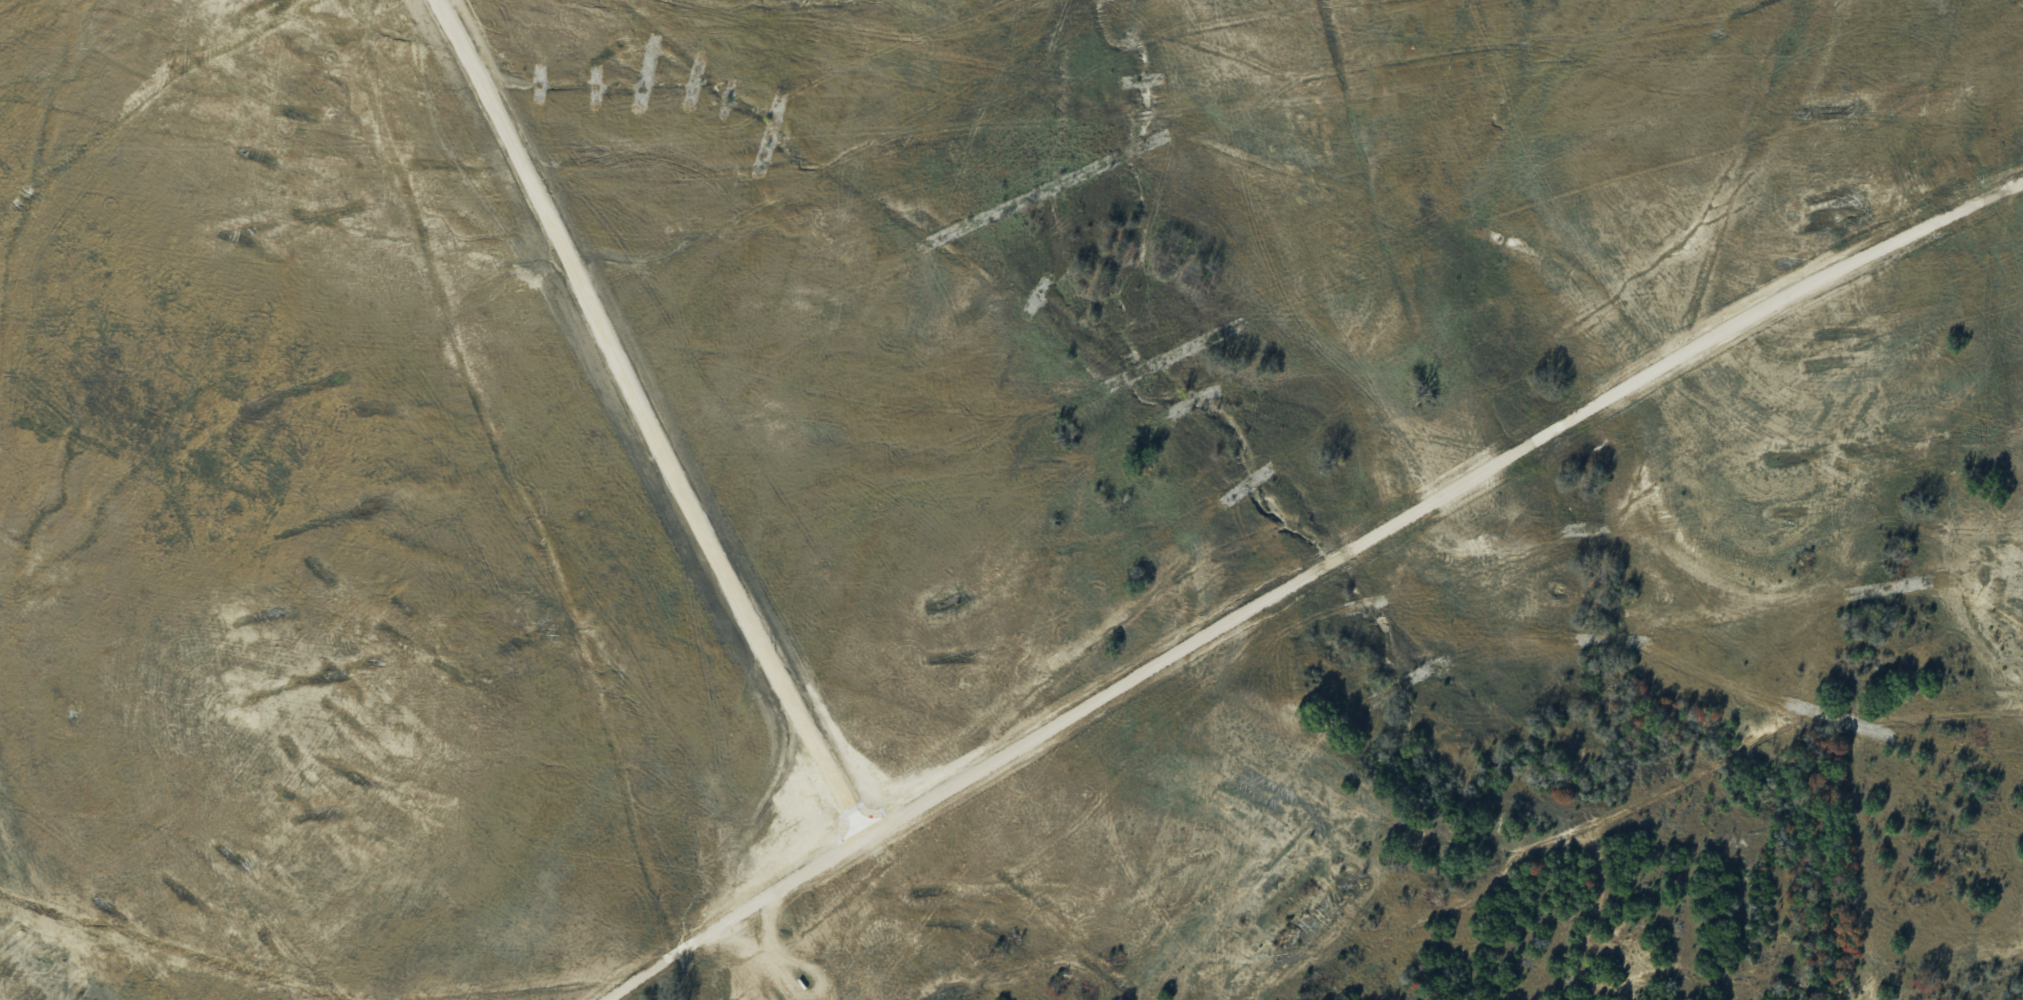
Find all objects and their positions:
road: (1305, 577)

